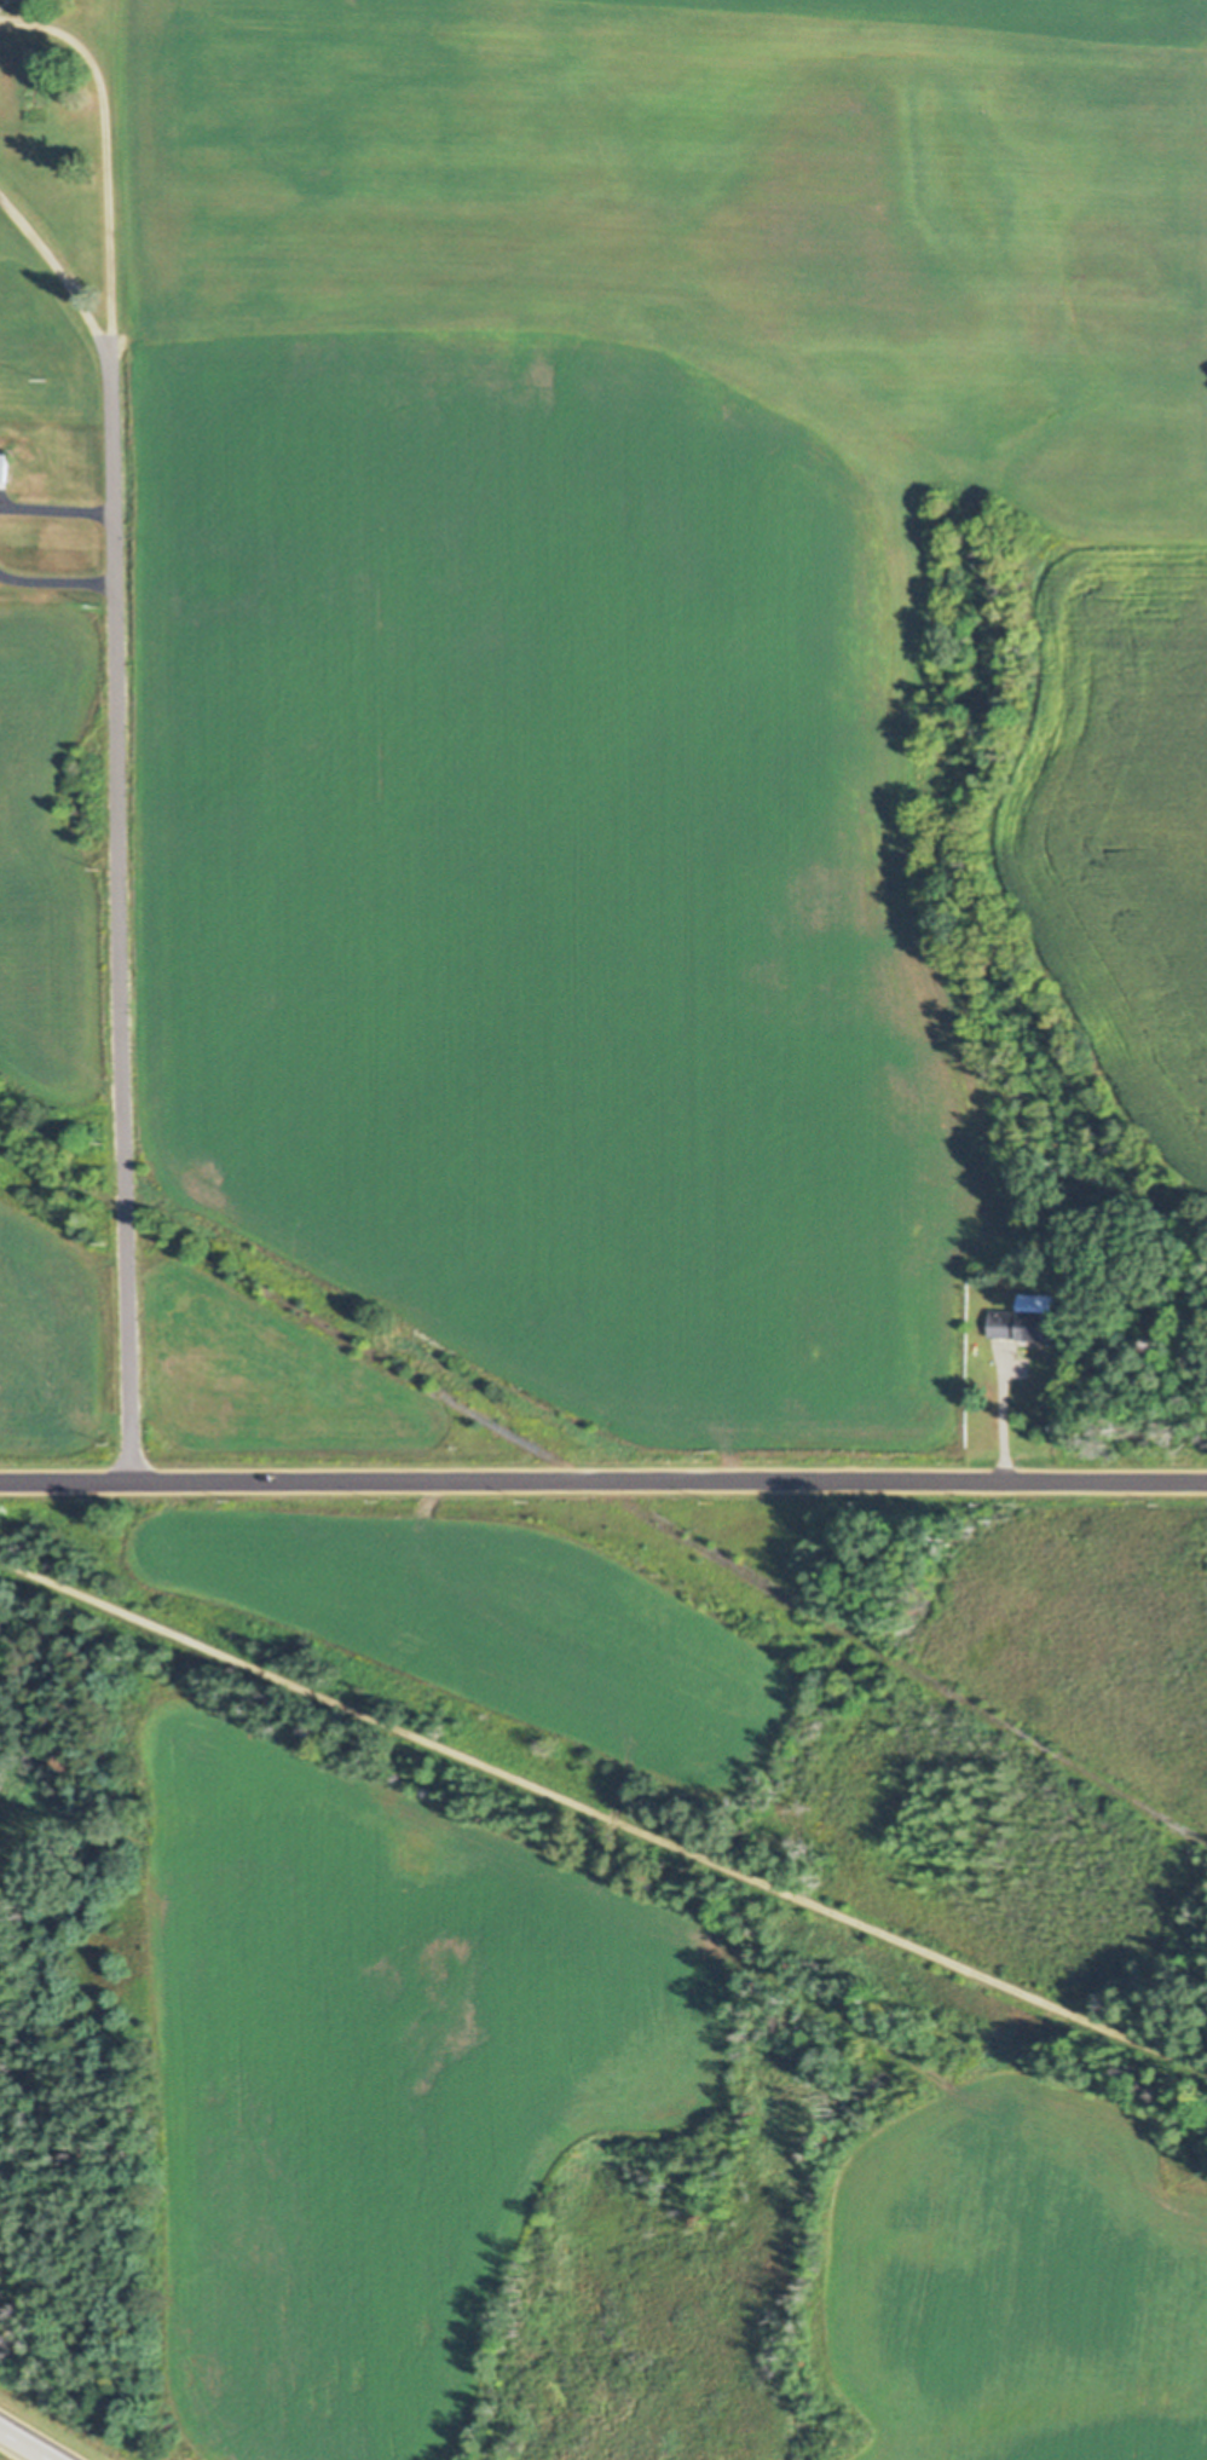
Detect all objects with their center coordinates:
road: (103, 151)
road: (58, 271)
road: (56, 509)
road: (54, 583)
road: (119, 913)
building: (1023, 1319)
road: (1003, 1417)
road: (603, 1478)
road: (603, 1488)
road: (602, 1815)
road: (25, 2444)

